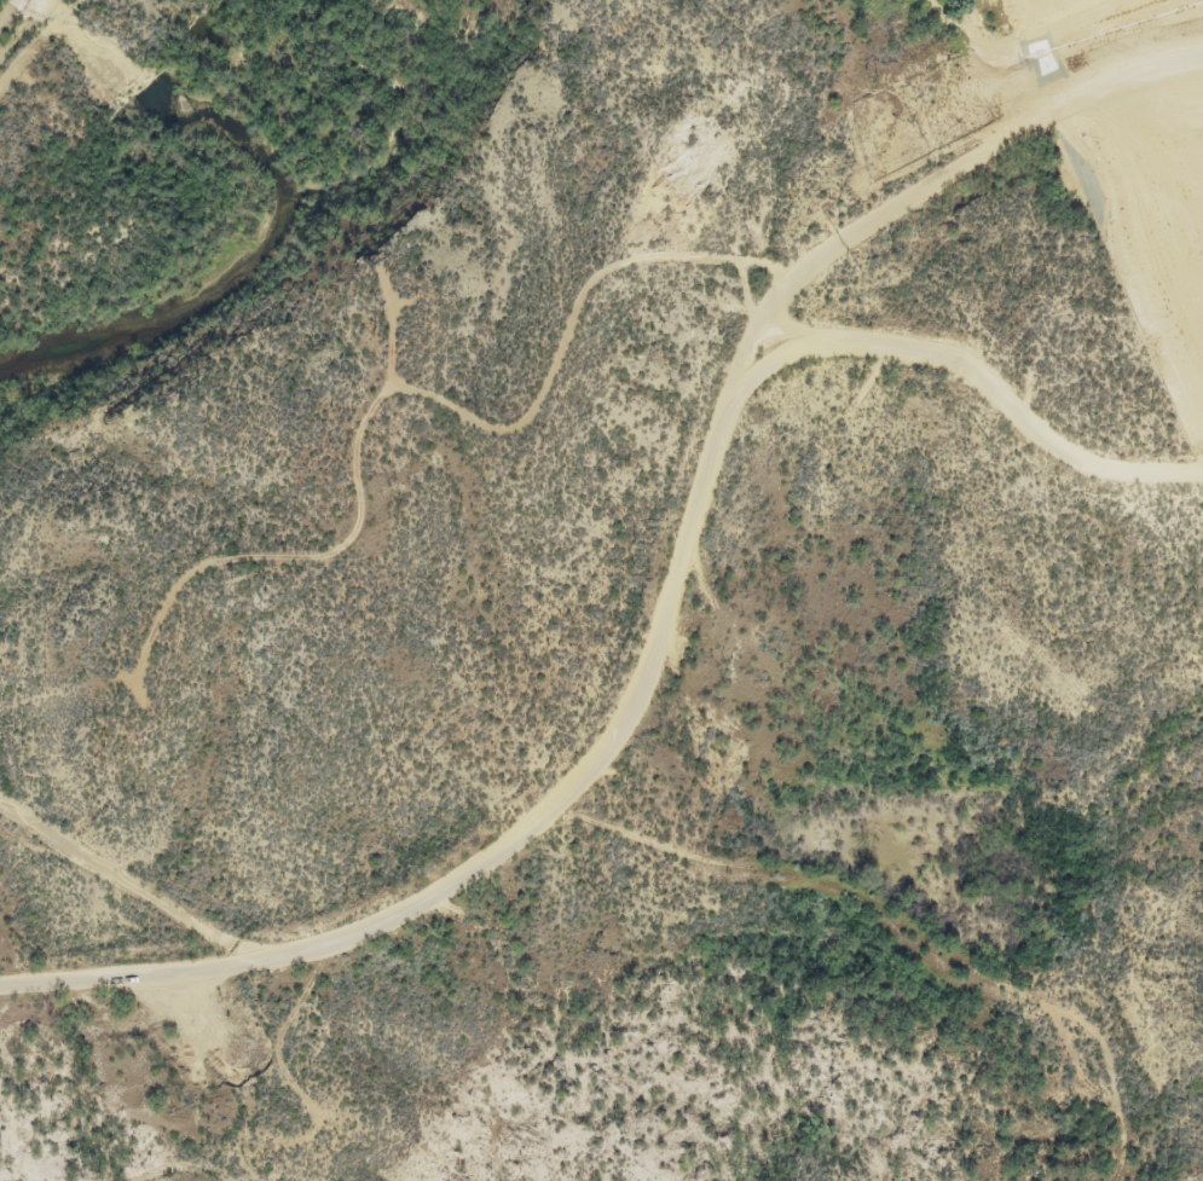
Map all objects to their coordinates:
road: (936, 170)
road: (805, 322)
road: (636, 664)
road: (120, 963)

